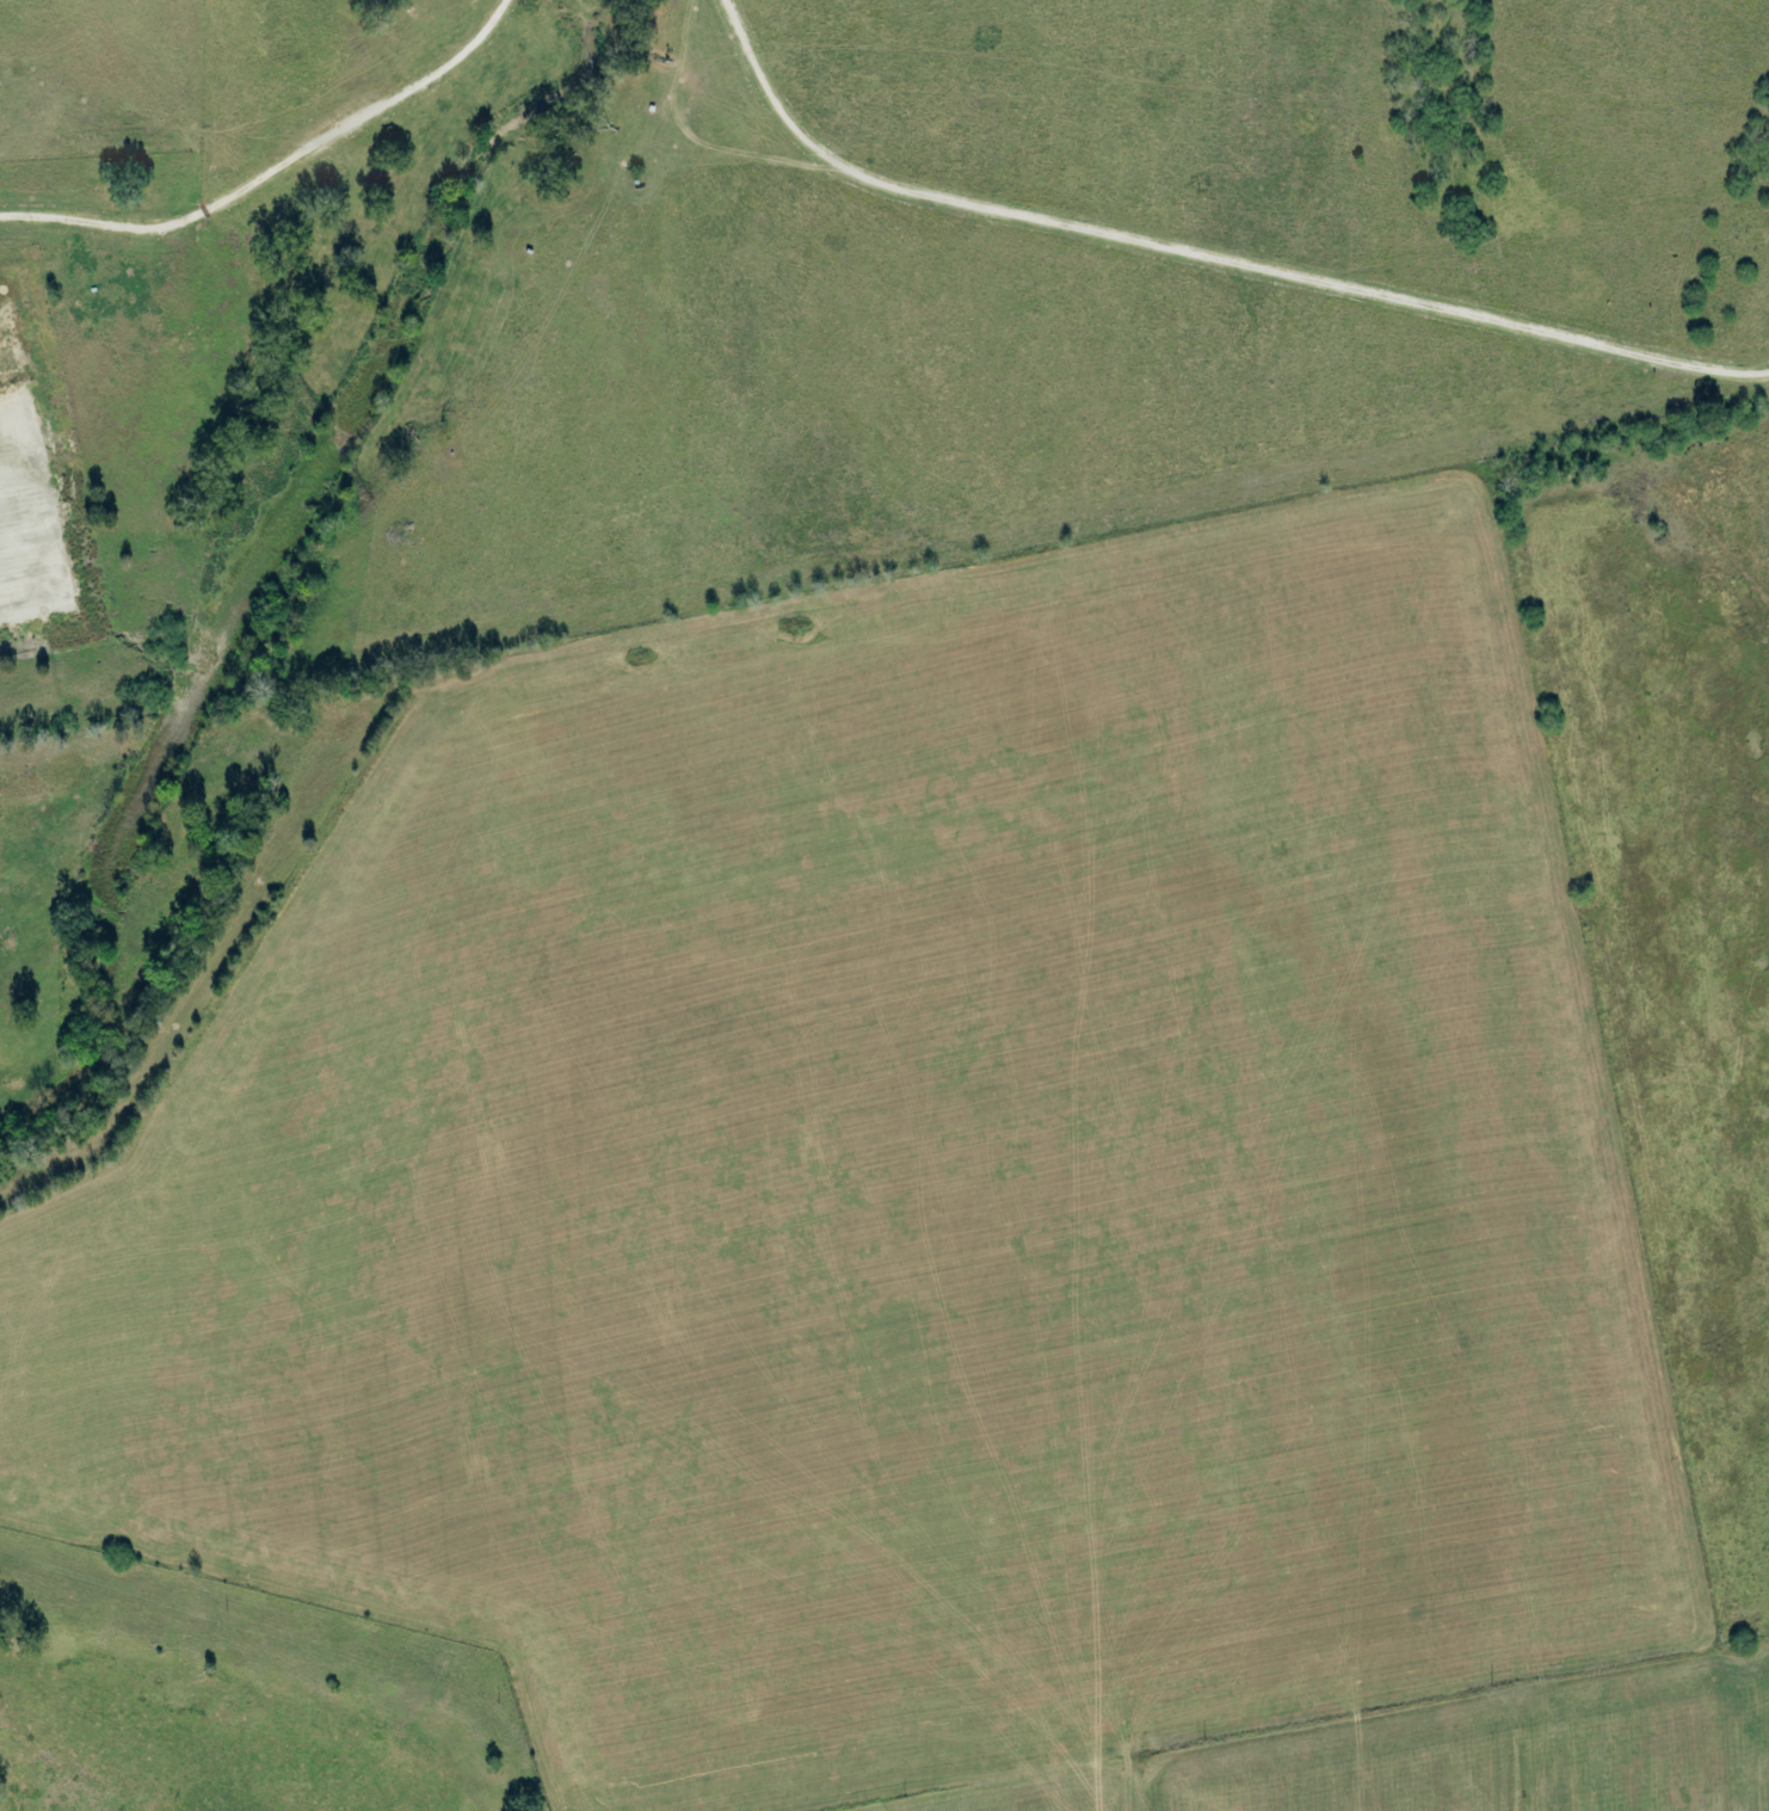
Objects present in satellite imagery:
road: (281, 174)
road: (1202, 263)

